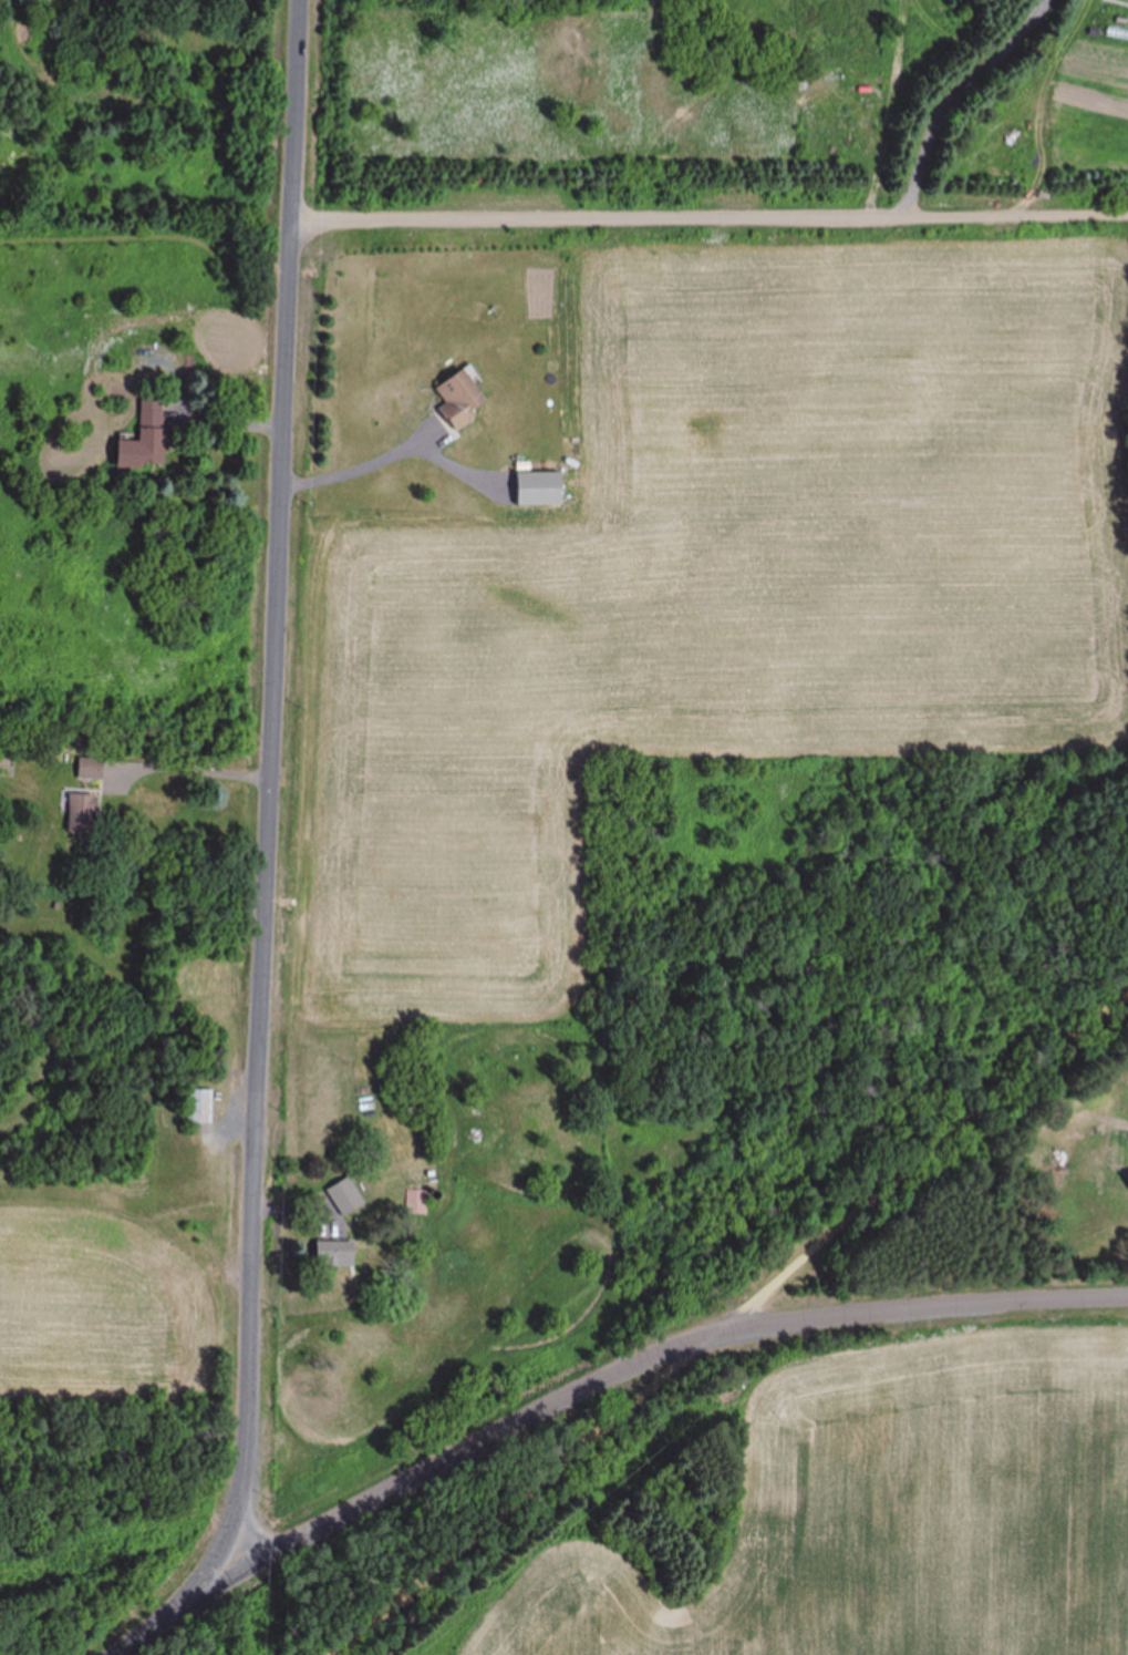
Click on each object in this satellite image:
road: (711, 212)
building: (454, 399)
building: (141, 440)
building: (535, 489)
crop: (710, 593)
building: (87, 769)
road: (271, 781)
building: (77, 815)
building: (197, 1107)
building: (1127, 1189)
building: (341, 1196)
building: (414, 1203)
building: (327, 1254)
crop: (121, 1293)
road: (728, 1328)
road: (592, 1386)

